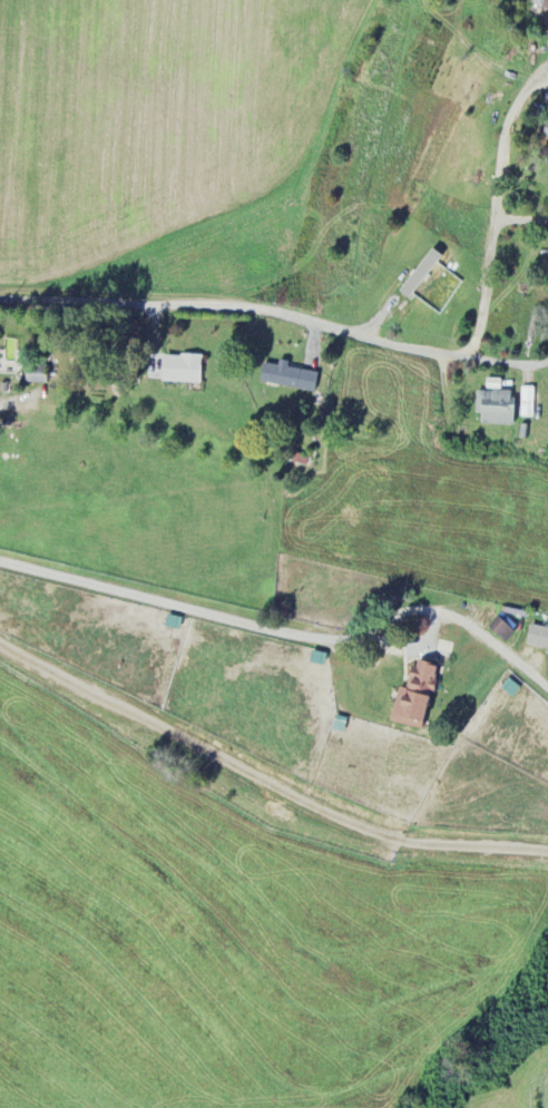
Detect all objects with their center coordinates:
building: (540, 4)
building: (546, 133)
road: (501, 151)
road: (489, 262)
building: (419, 275)
road: (276, 314)
building: (180, 370)
building: (36, 374)
building: (287, 377)
building: (527, 403)
road: (0, 405)
building: (495, 409)
road: (170, 604)
road: (452, 615)
building: (501, 628)
building: (537, 639)
building: (316, 659)
building: (414, 697)

